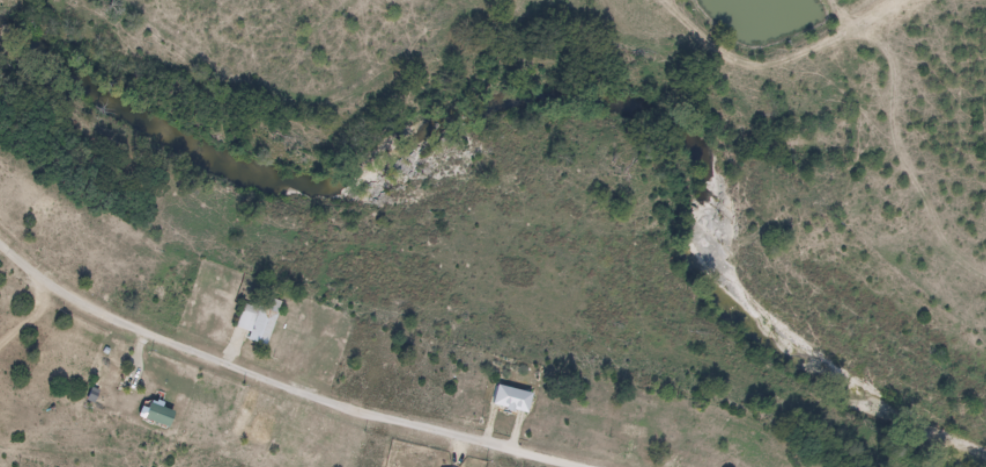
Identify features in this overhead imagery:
building: (266, 325)
road: (258, 379)
building: (517, 406)
building: (165, 423)

